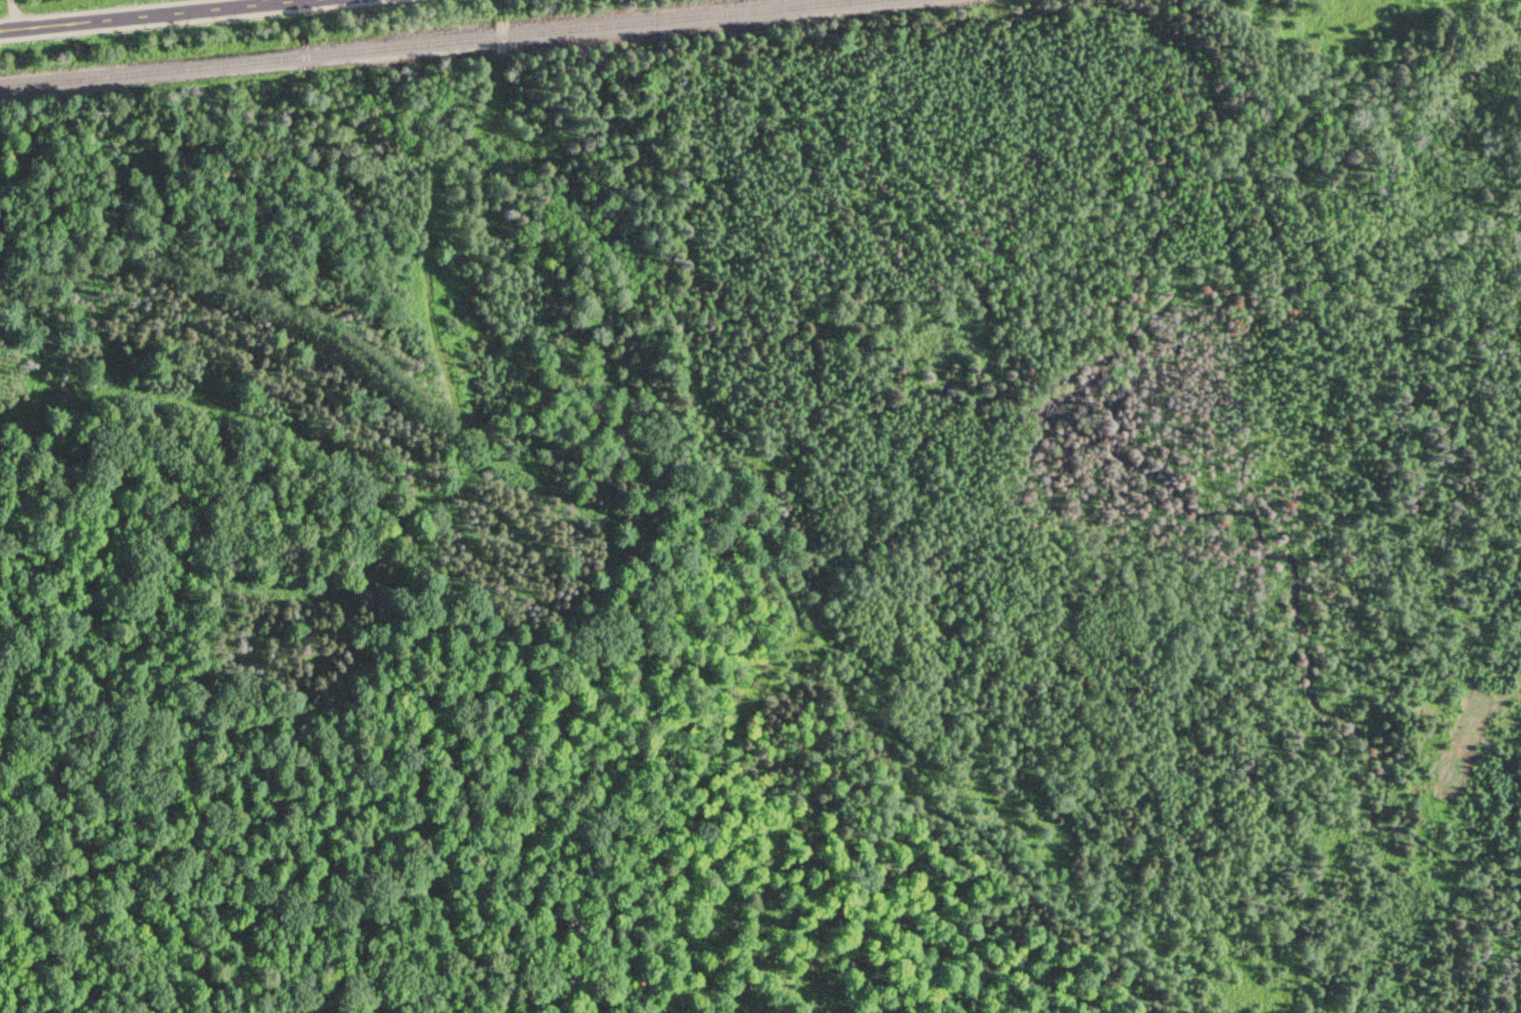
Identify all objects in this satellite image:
road: (154, 15)
railway: (430, 44)
road: (430, 193)

